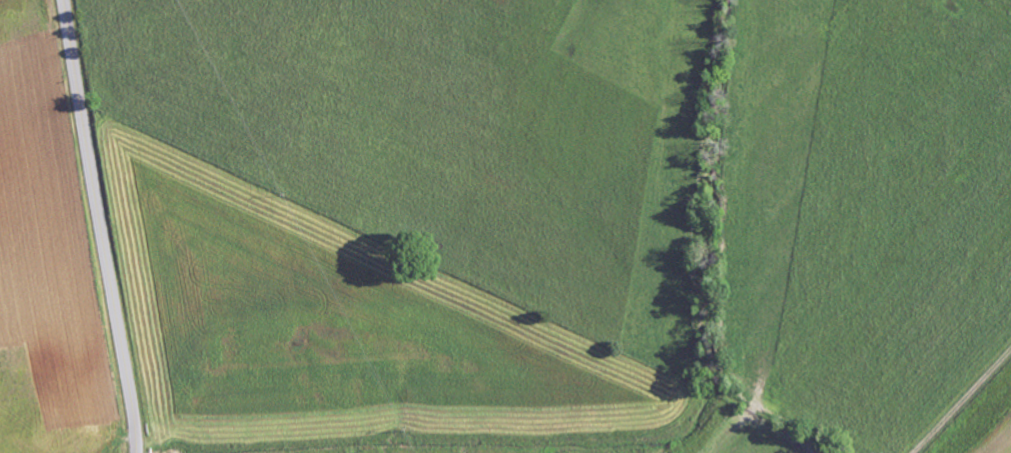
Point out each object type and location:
road: (100, 226)

